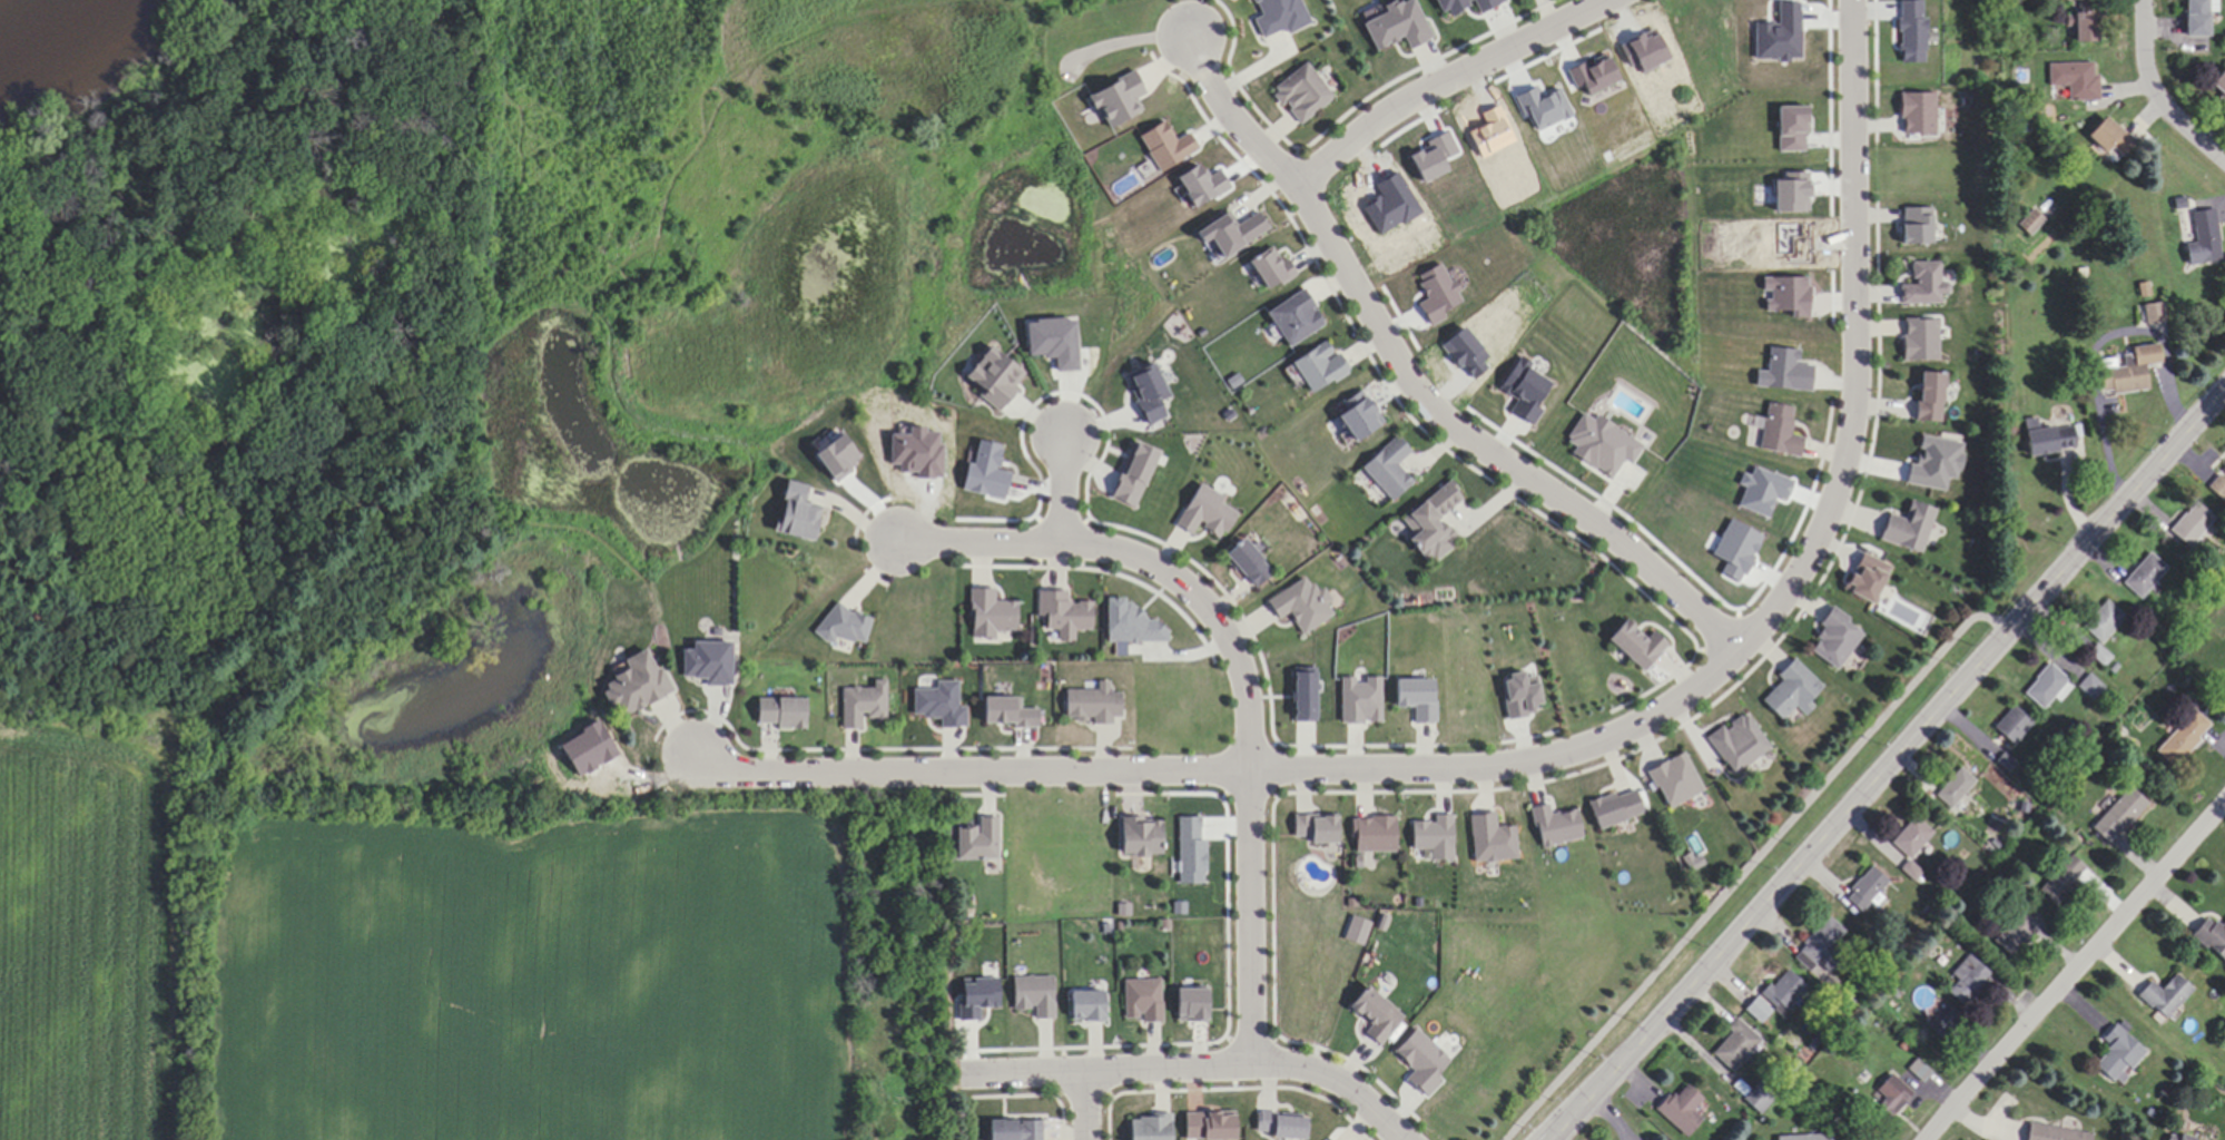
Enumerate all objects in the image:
building: (2194, 18)
building: (2084, 20)
river: (45, 32)
road: (1446, 79)
building: (2073, 79)
building: (2218, 83)
building: (1298, 92)
road: (2154, 96)
building: (2106, 138)
building: (2029, 222)
building: (2199, 236)
building: (1923, 285)
building: (2153, 313)
building: (1293, 317)
building: (1920, 338)
road: (2099, 343)
building: (1318, 367)
building: (2128, 372)
road: (1415, 385)
building: (1927, 396)
building: (1778, 431)
building: (2045, 441)
building: (1388, 468)
building: (2224, 470)
road: (1070, 488)
building: (791, 512)
building: (1433, 522)
building: (2189, 524)
building: (1908, 528)
building: (2143, 574)
building: (1303, 606)
building: (990, 613)
building: (1062, 615)
building: (2101, 621)
building: (1833, 639)
building: (1635, 645)
road: (1241, 656)
building: (2098, 656)
building: (632, 685)
building: (2046, 687)
building: (2089, 687)
building: (1791, 691)
building: (860, 705)
building: (1091, 706)
building: (777, 712)
building: (2011, 726)
building: (2182, 738)
building: (1737, 743)
road: (1565, 747)
road: (1884, 766)
building: (1955, 789)
building: (2117, 815)
building: (1554, 826)
building: (1317, 828)
building: (1376, 834)
building: (1140, 837)
building: (1910, 838)
building: (976, 841)
building: (1491, 841)
building: (2061, 881)
building: (1864, 891)
building: (2014, 934)
building: (2211, 937)
building: (1822, 943)
road: (2076, 974)
building: (1969, 976)
building: (1783, 992)
building: (1032, 995)
building: (2164, 996)
building: (1142, 1000)
building: (1084, 1005)
building: (1756, 1010)
building: (1376, 1014)
building: (1733, 1045)
building: (2117, 1054)
road: (1199, 1063)
building: (1918, 1070)
building: (1888, 1098)
building: (1756, 1099)
road: (1084, 1103)
building: (1680, 1110)
building: (1280, 1126)
building: (1149, 1128)
building: (1011, 1130)
building: (2051, 1133)
building: (1803, 1138)
building: (2175, 1138)
building: (1335, 1139)

